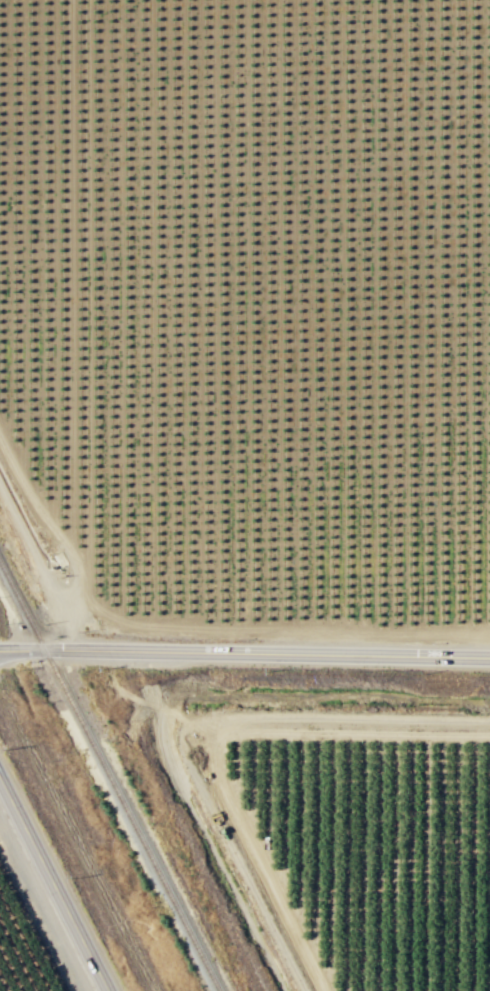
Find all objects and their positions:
road: (244, 653)
road: (217, 741)
railway: (108, 778)
road: (228, 840)
road: (53, 885)

